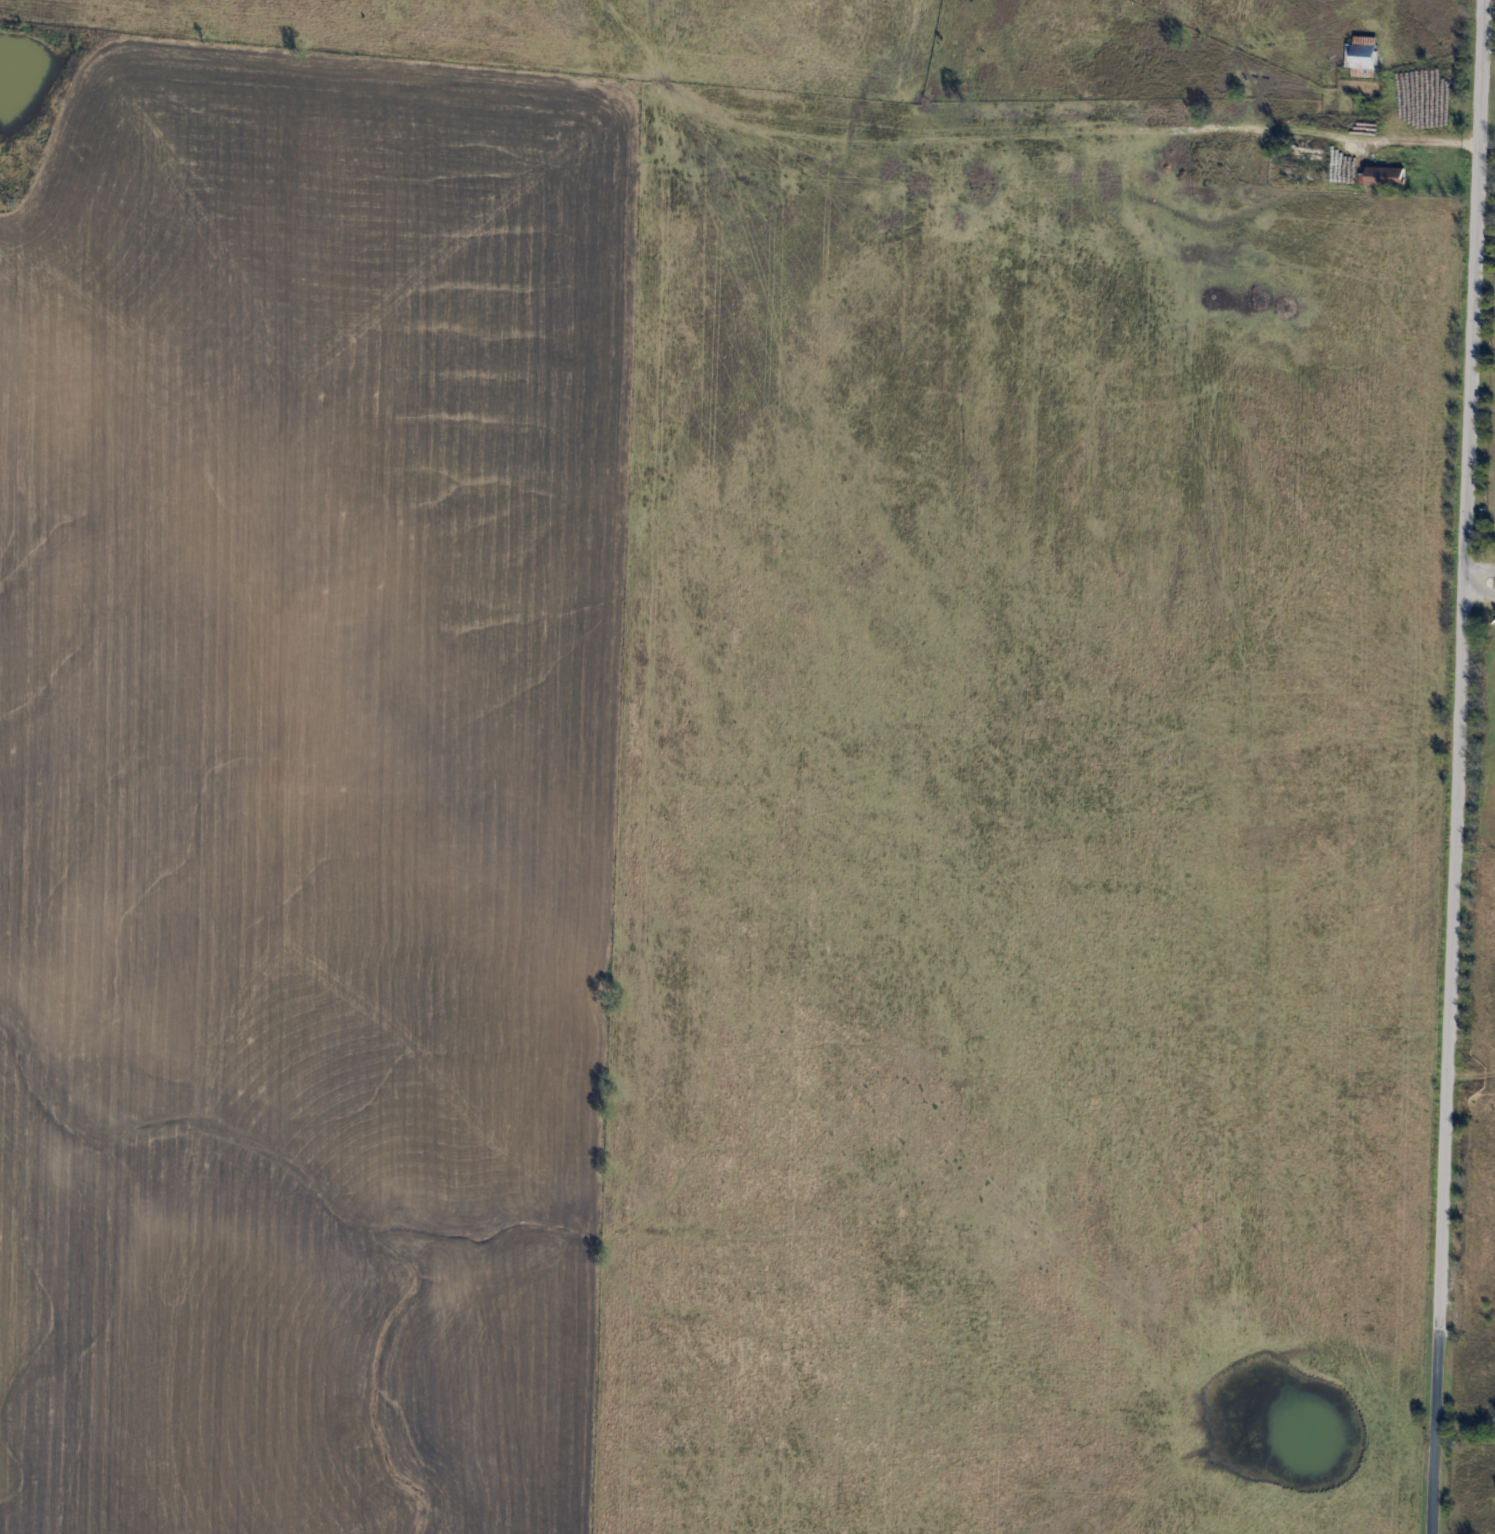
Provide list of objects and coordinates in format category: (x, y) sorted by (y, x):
building: (1362, 56)
road: (1387, 140)
building: (1304, 165)
building: (1386, 176)
road: (1478, 580)
road: (1455, 766)

